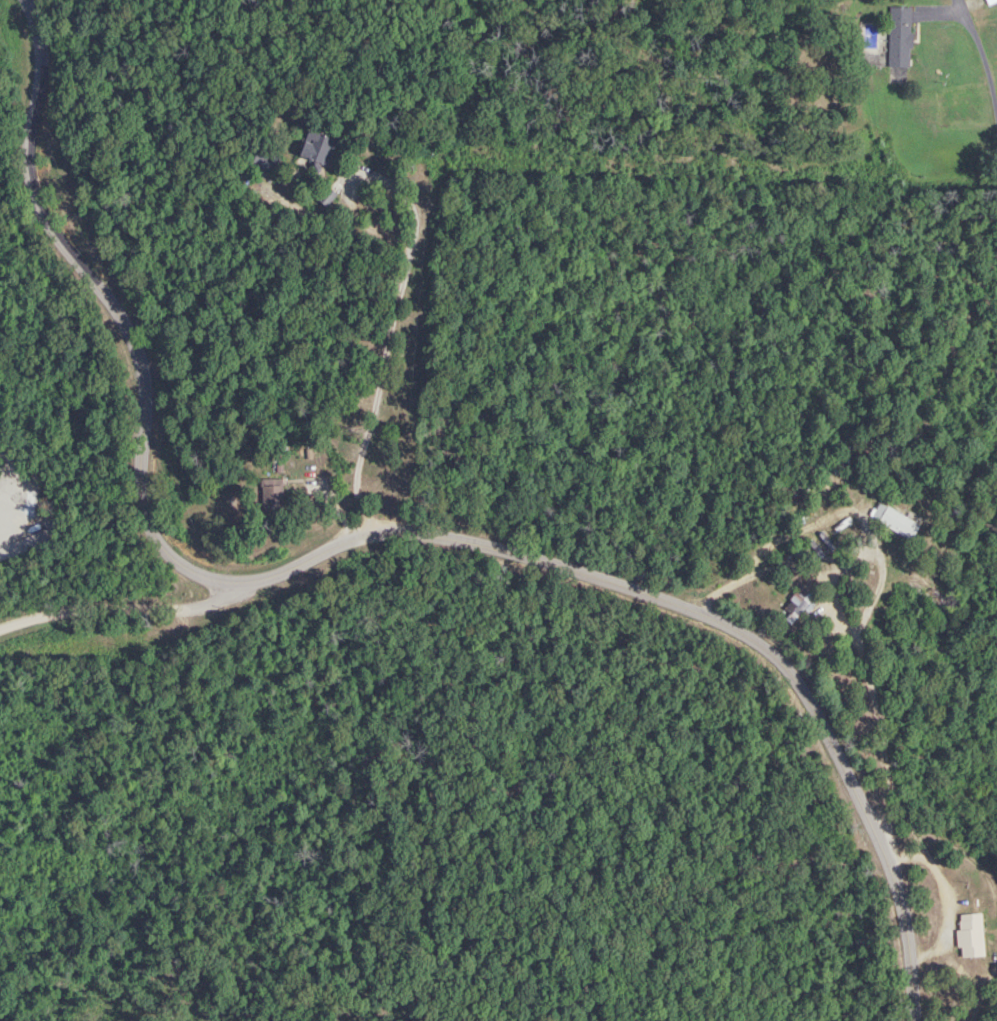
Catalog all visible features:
building: (898, 37)
road: (982, 53)
building: (316, 149)
building: (264, 162)
road: (388, 318)
road: (912, 431)
building: (271, 496)
road: (376, 522)
building: (797, 605)
road: (115, 607)
road: (851, 642)
building: (970, 935)

